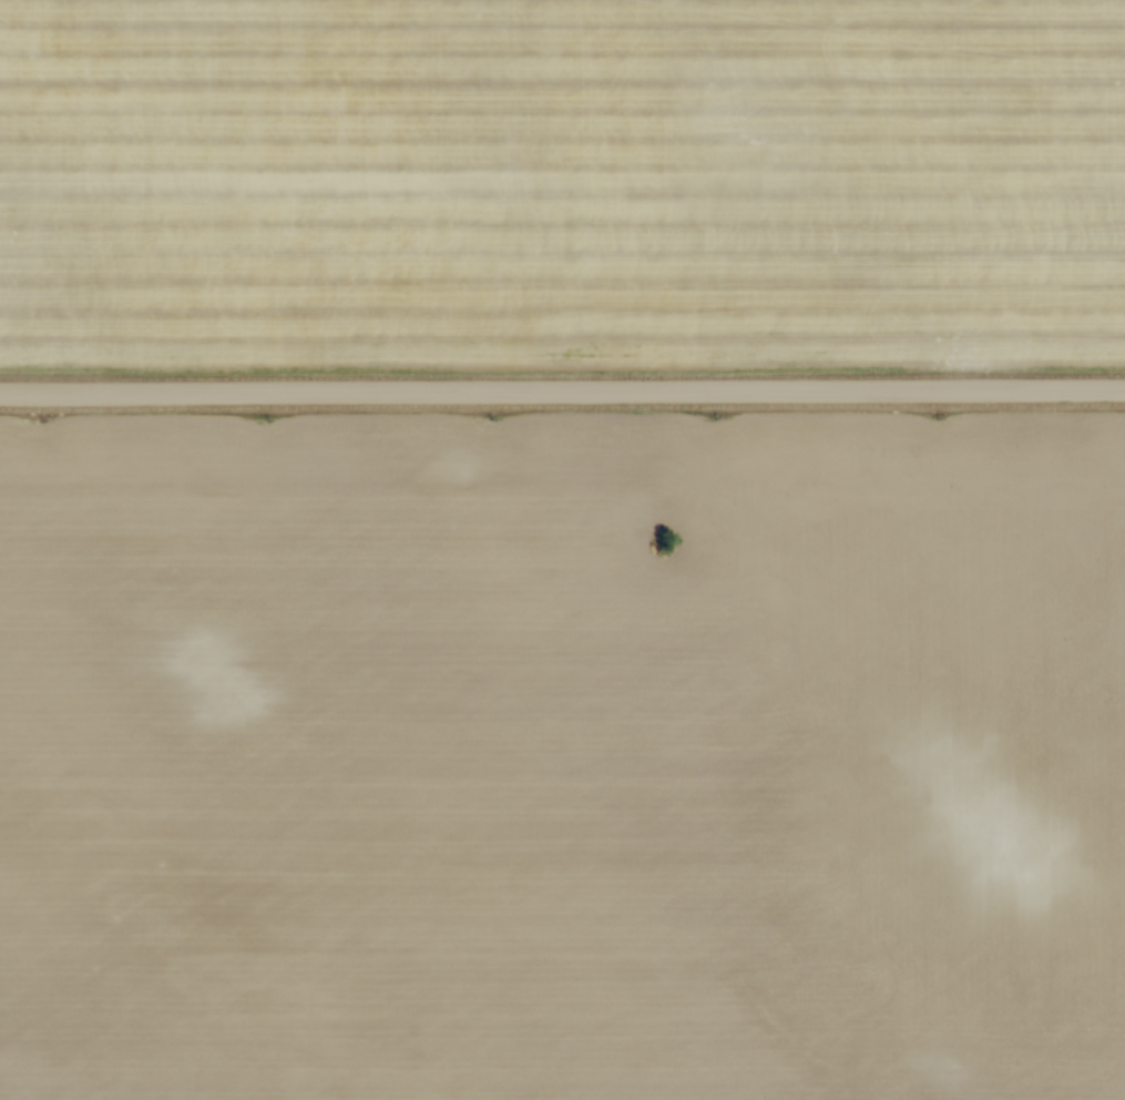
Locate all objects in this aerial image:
crop: (561, 186)
road: (562, 391)
crop: (562, 756)

